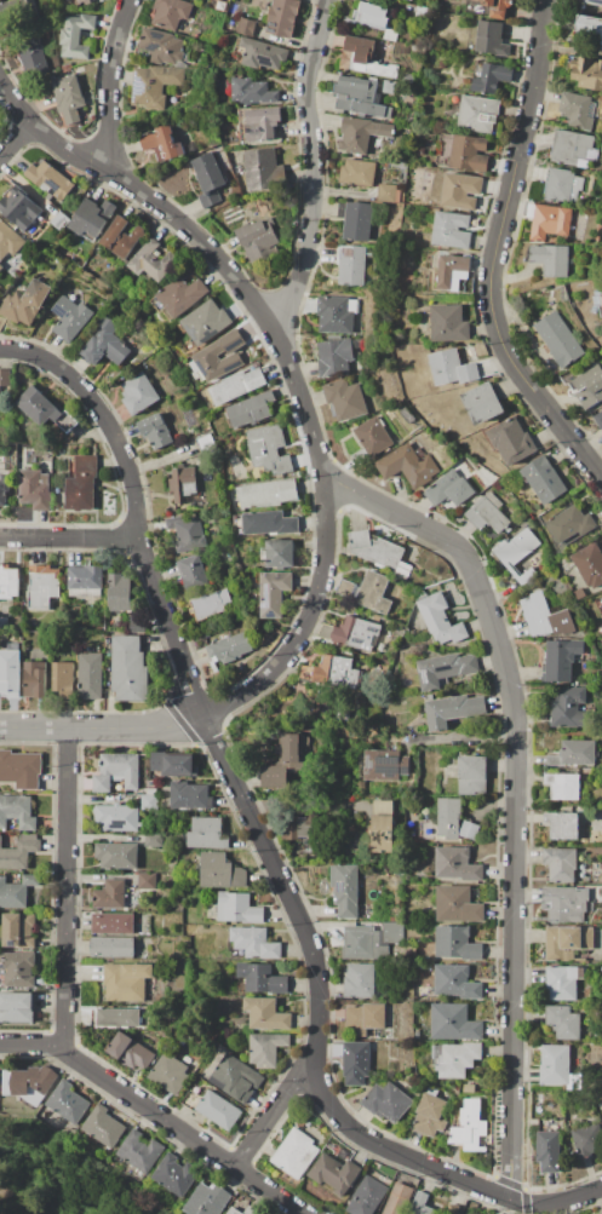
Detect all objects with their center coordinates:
building: (411, 0)
building: (71, 1)
building: (82, 1)
building: (257, 2)
building: (592, 2)
building: (487, 7)
building: (17, 10)
building: (408, 10)
building: (170, 12)
building: (422, 13)
building: (371, 15)
building: (281, 17)
building: (589, 25)
building: (245, 27)
building: (389, 35)
building: (76, 36)
building: (489, 39)
building: (161, 47)
building: (259, 53)
building: (31, 56)
building: (366, 58)
building: (67, 68)
building: (79, 69)
building: (586, 73)
building: (488, 76)
building: (406, 77)
road: (110, 82)
building: (154, 85)
building: (389, 86)
building: (251, 91)
building: (360, 94)
building: (71, 99)
building: (577, 110)
building: (476, 113)
building: (220, 115)
building: (257, 123)
building: (360, 134)
road: (15, 143)
building: (164, 144)
building: (569, 146)
building: (469, 153)
building: (239, 156)
road: (313, 167)
building: (262, 169)
building: (356, 172)
building: (208, 173)
building: (50, 180)
building: (561, 185)
building: (460, 191)
building: (386, 192)
road: (142, 197)
building: (210, 199)
building: (24, 209)
building: (92, 218)
building: (355, 220)
building: (59, 221)
building: (551, 221)
building: (451, 230)
building: (122, 236)
building: (10, 241)
building: (259, 241)
building: (377, 242)
building: (369, 253)
road: (494, 254)
building: (549, 259)
building: (153, 260)
building: (352, 265)
building: (1, 267)
building: (453, 272)
building: (179, 294)
building: (600, 301)
building: (27, 303)
building: (336, 313)
building: (70, 318)
building: (205, 321)
building: (1, 323)
building: (449, 323)
building: (557, 339)
building: (104, 344)
building: (220, 357)
building: (334, 357)
building: (451, 368)
building: (6, 384)
building: (237, 385)
building: (589, 387)
building: (138, 393)
building: (345, 399)
road: (302, 402)
building: (482, 402)
building: (44, 409)
building: (252, 410)
building: (390, 414)
building: (408, 414)
building: (597, 420)
building: (154, 432)
building: (373, 436)
building: (511, 441)
building: (206, 444)
building: (269, 450)
building: (2, 462)
building: (46, 465)
building: (408, 465)
building: (543, 479)
building: (81, 483)
building: (183, 485)
building: (452, 485)
building: (4, 489)
building: (35, 489)
building: (263, 494)
building: (55, 505)
building: (488, 514)
building: (270, 523)
building: (569, 523)
building: (523, 524)
building: (187, 533)
road: (70, 537)
building: (518, 550)
building: (380, 553)
building: (279, 554)
building: (589, 565)
building: (191, 574)
building: (85, 582)
building: (425, 582)
building: (8, 583)
building: (44, 586)
building: (119, 593)
building: (274, 593)
building: (374, 593)
building: (579, 593)
building: (601, 599)
building: (210, 605)
building: (535, 615)
road: (305, 618)
building: (377, 618)
building: (441, 620)
building: (4, 623)
building: (137, 623)
building: (562, 623)
building: (111, 625)
building: (357, 634)
building: (380, 649)
building: (229, 650)
building: (562, 660)
building: (126, 668)
building: (443, 669)
building: (10, 671)
building: (90, 673)
building: (333, 674)
building: (35, 679)
building: (63, 680)
building: (569, 707)
building: (453, 710)
building: (342, 715)
road: (102, 727)
road: (460, 741)
building: (292, 752)
building: (573, 754)
building: (173, 765)
building: (384, 765)
building: (19, 770)
building: (116, 772)
building: (274, 776)
building: (472, 776)
building: (153, 784)
building: (563, 786)
building: (378, 787)
building: (151, 792)
building: (165, 793)
road: (516, 794)
building: (190, 795)
road: (303, 801)
building: (148, 802)
building: (16, 813)
building: (116, 818)
building: (448, 818)
building: (562, 824)
building: (299, 825)
building: (383, 825)
building: (469, 830)
building: (208, 834)
building: (153, 840)
road: (260, 841)
building: (17, 850)
building: (116, 855)
building: (172, 863)
building: (458, 864)
building: (561, 864)
building: (220, 871)
building: (419, 878)
building: (147, 881)
road: (64, 886)
building: (16, 888)
building: (345, 891)
building: (110, 896)
building: (459, 904)
building: (566, 904)
building: (133, 907)
building: (237, 909)
building: (113, 924)
building: (18, 931)
building: (371, 940)
building: (567, 942)
building: (254, 943)
building: (457, 943)
building: (113, 947)
building: (17, 970)
building: (180, 973)
building: (259, 979)
building: (360, 980)
building: (127, 982)
building: (457, 983)
building: (563, 983)
building: (16, 1008)
building: (265, 1014)
building: (115, 1017)
building: (369, 1020)
building: (454, 1023)
building: (562, 1023)
building: (418, 1034)
building: (596, 1036)
building: (266, 1048)
building: (131, 1051)
building: (600, 1052)
building: (455, 1059)
building: (356, 1063)
building: (555, 1065)
building: (207, 1071)
building: (170, 1075)
building: (236, 1078)
building: (417, 1082)
building: (572, 1082)
building: (30, 1083)
building: (469, 1088)
building: (193, 1098)
building: (68, 1103)
building: (388, 1103)
building: (601, 1106)
building: (218, 1111)
road: (274, 1111)
road: (155, 1114)
building: (429, 1115)
building: (103, 1127)
building: (470, 1128)
building: (589, 1140)
building: (139, 1151)
building: (547, 1151)
building: (296, 1153)
road: (4, 1169)
building: (174, 1174)
building: (334, 1174)
road: (67, 1176)
park: (53, 1179)
building: (367, 1196)
building: (207, 1199)
building: (399, 1199)
road: (15, 1203)
building: (422, 1204)
building: (453, 1209)
road: (561, 1209)
building: (252, 1210)
building: (234, 1212)

